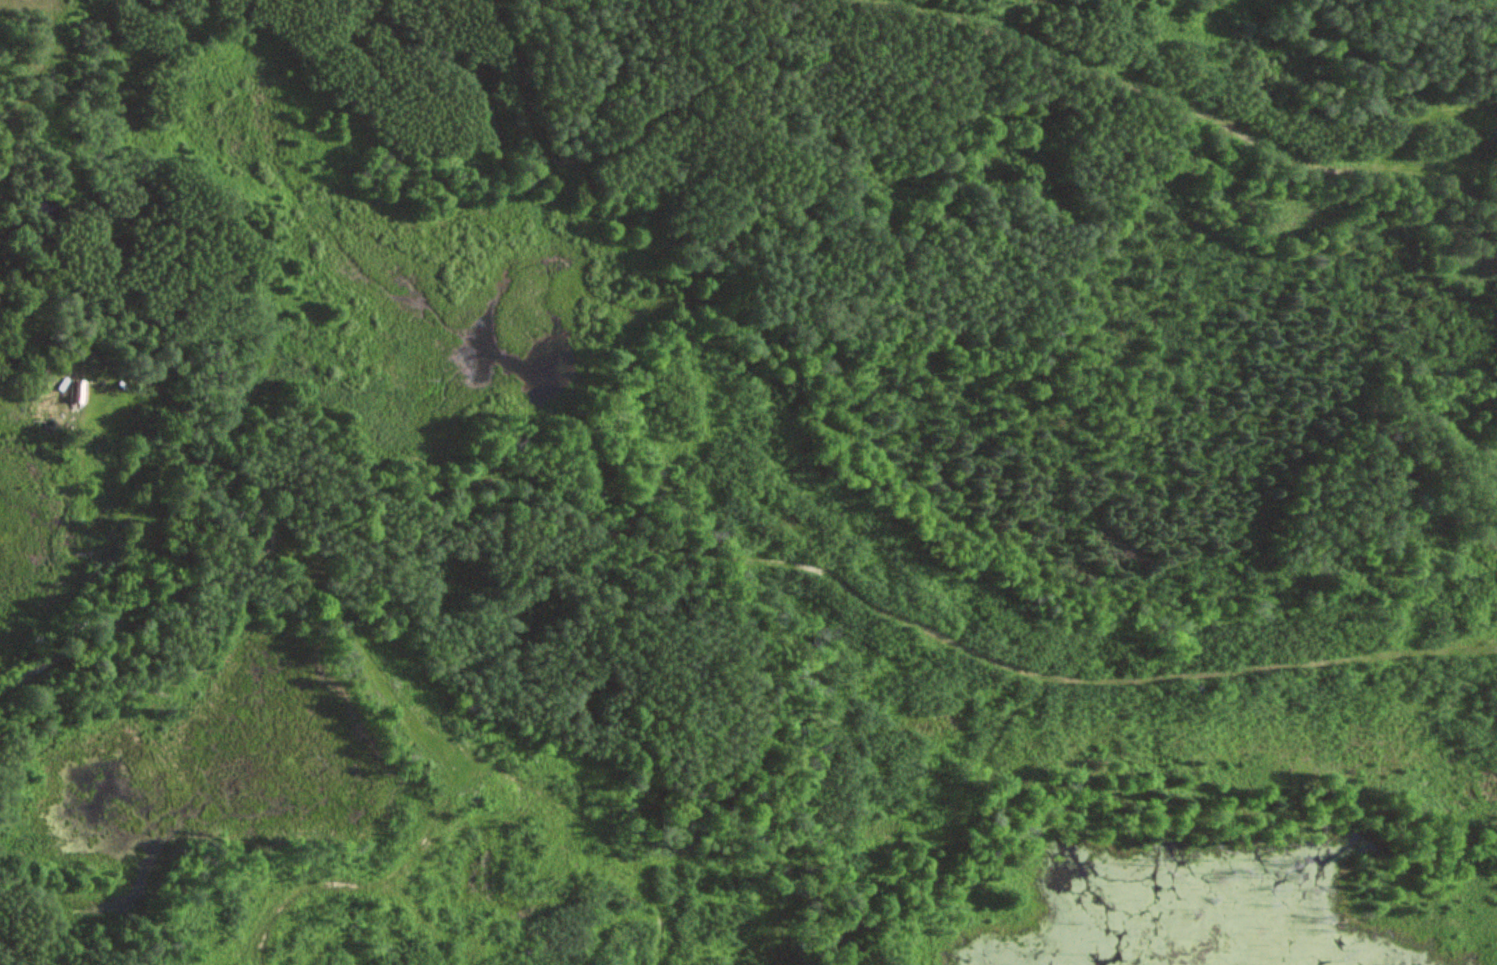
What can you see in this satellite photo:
building: (74, 379)
road: (219, 569)

